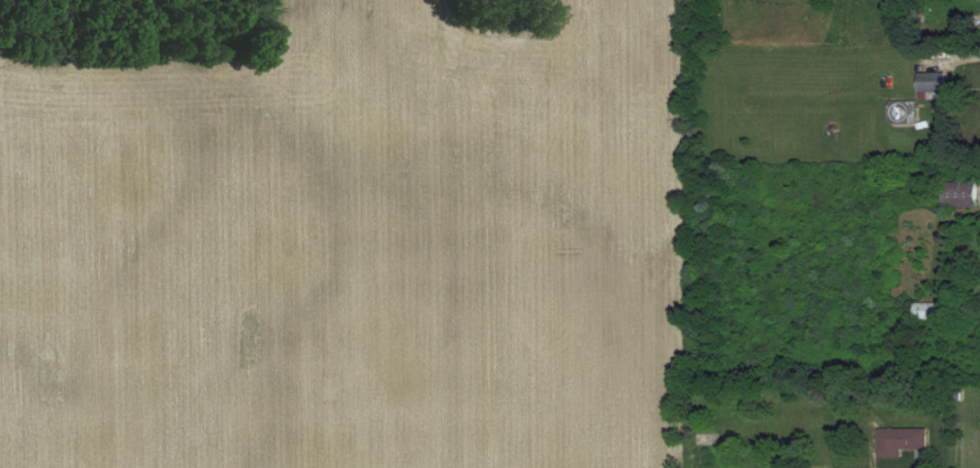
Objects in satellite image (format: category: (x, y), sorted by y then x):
building: (935, 85)
building: (962, 194)
building: (930, 311)
building: (905, 441)

